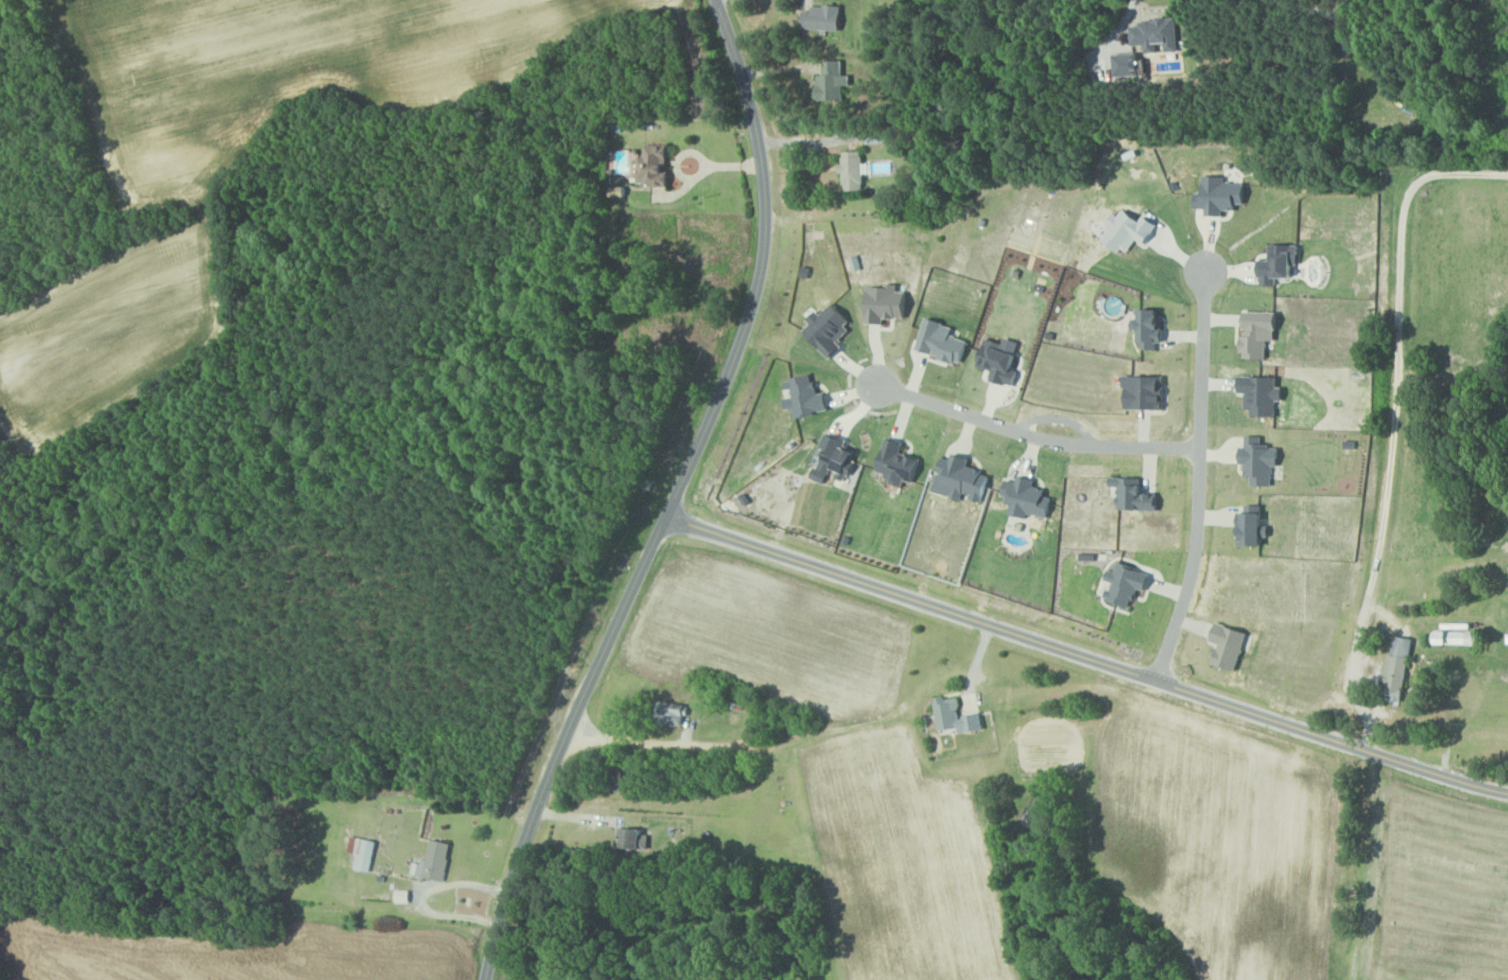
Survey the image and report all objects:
road: (1313, 9)
building: (823, 18)
building: (1158, 34)
road: (1117, 35)
building: (1130, 64)
building: (833, 80)
road: (805, 142)
building: (655, 166)
road: (707, 168)
building: (854, 170)
building: (1222, 195)
building: (1130, 231)
building: (1280, 264)
building: (888, 304)
building: (830, 328)
building: (1153, 328)
building: (1260, 333)
building: (944, 342)
building: (1002, 362)
building: (1146, 392)
building: (1263, 395)
building: (808, 397)
road: (1393, 420)
road: (1037, 434)
building: (839, 457)
building: (1261, 461)
building: (901, 463)
road: (1199, 477)
building: (966, 478)
building: (1137, 495)
road: (674, 496)
building: (1030, 499)
building: (1253, 527)
building: (1129, 584)
building: (1457, 635)
building: (1230, 646)
road: (1086, 658)
building: (1399, 668)
building: (676, 713)
building: (958, 717)
road: (801, 735)
building: (636, 840)
building: (365, 853)
building: (404, 896)
road: (422, 896)

